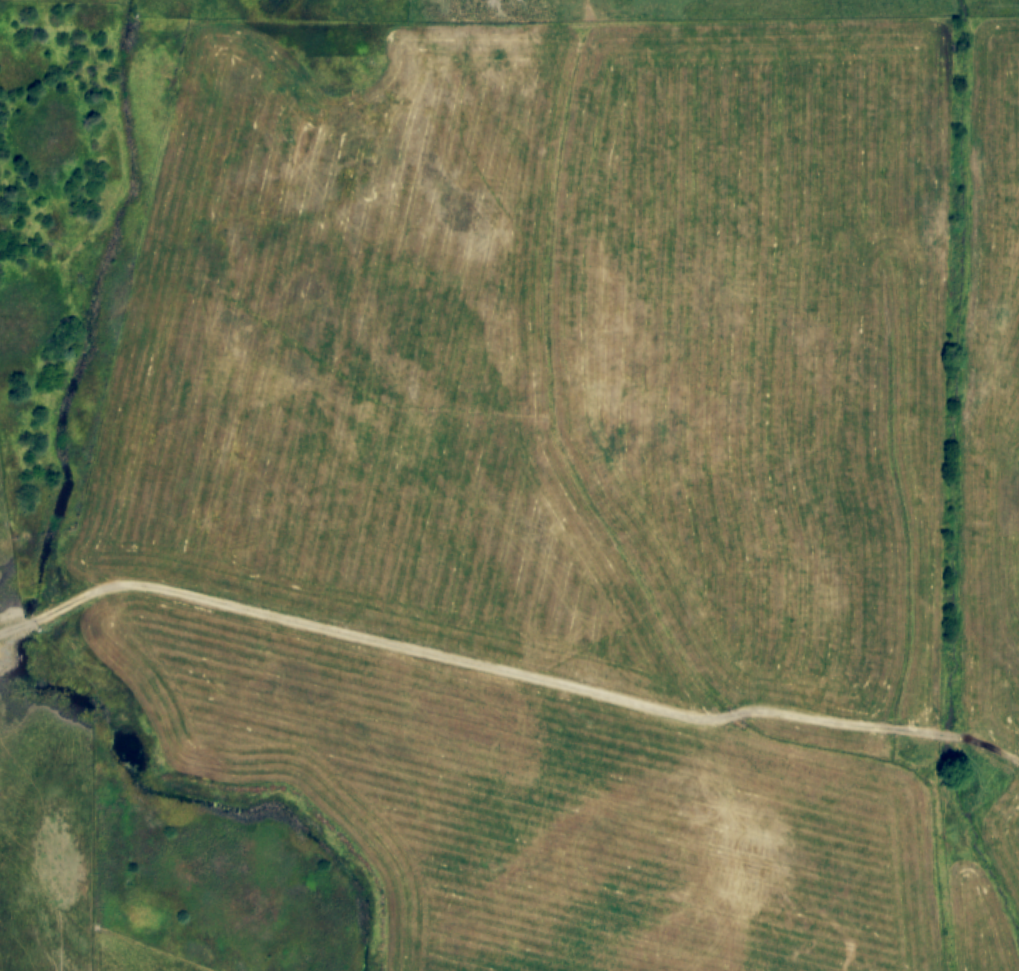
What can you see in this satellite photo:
road: (510, 656)

